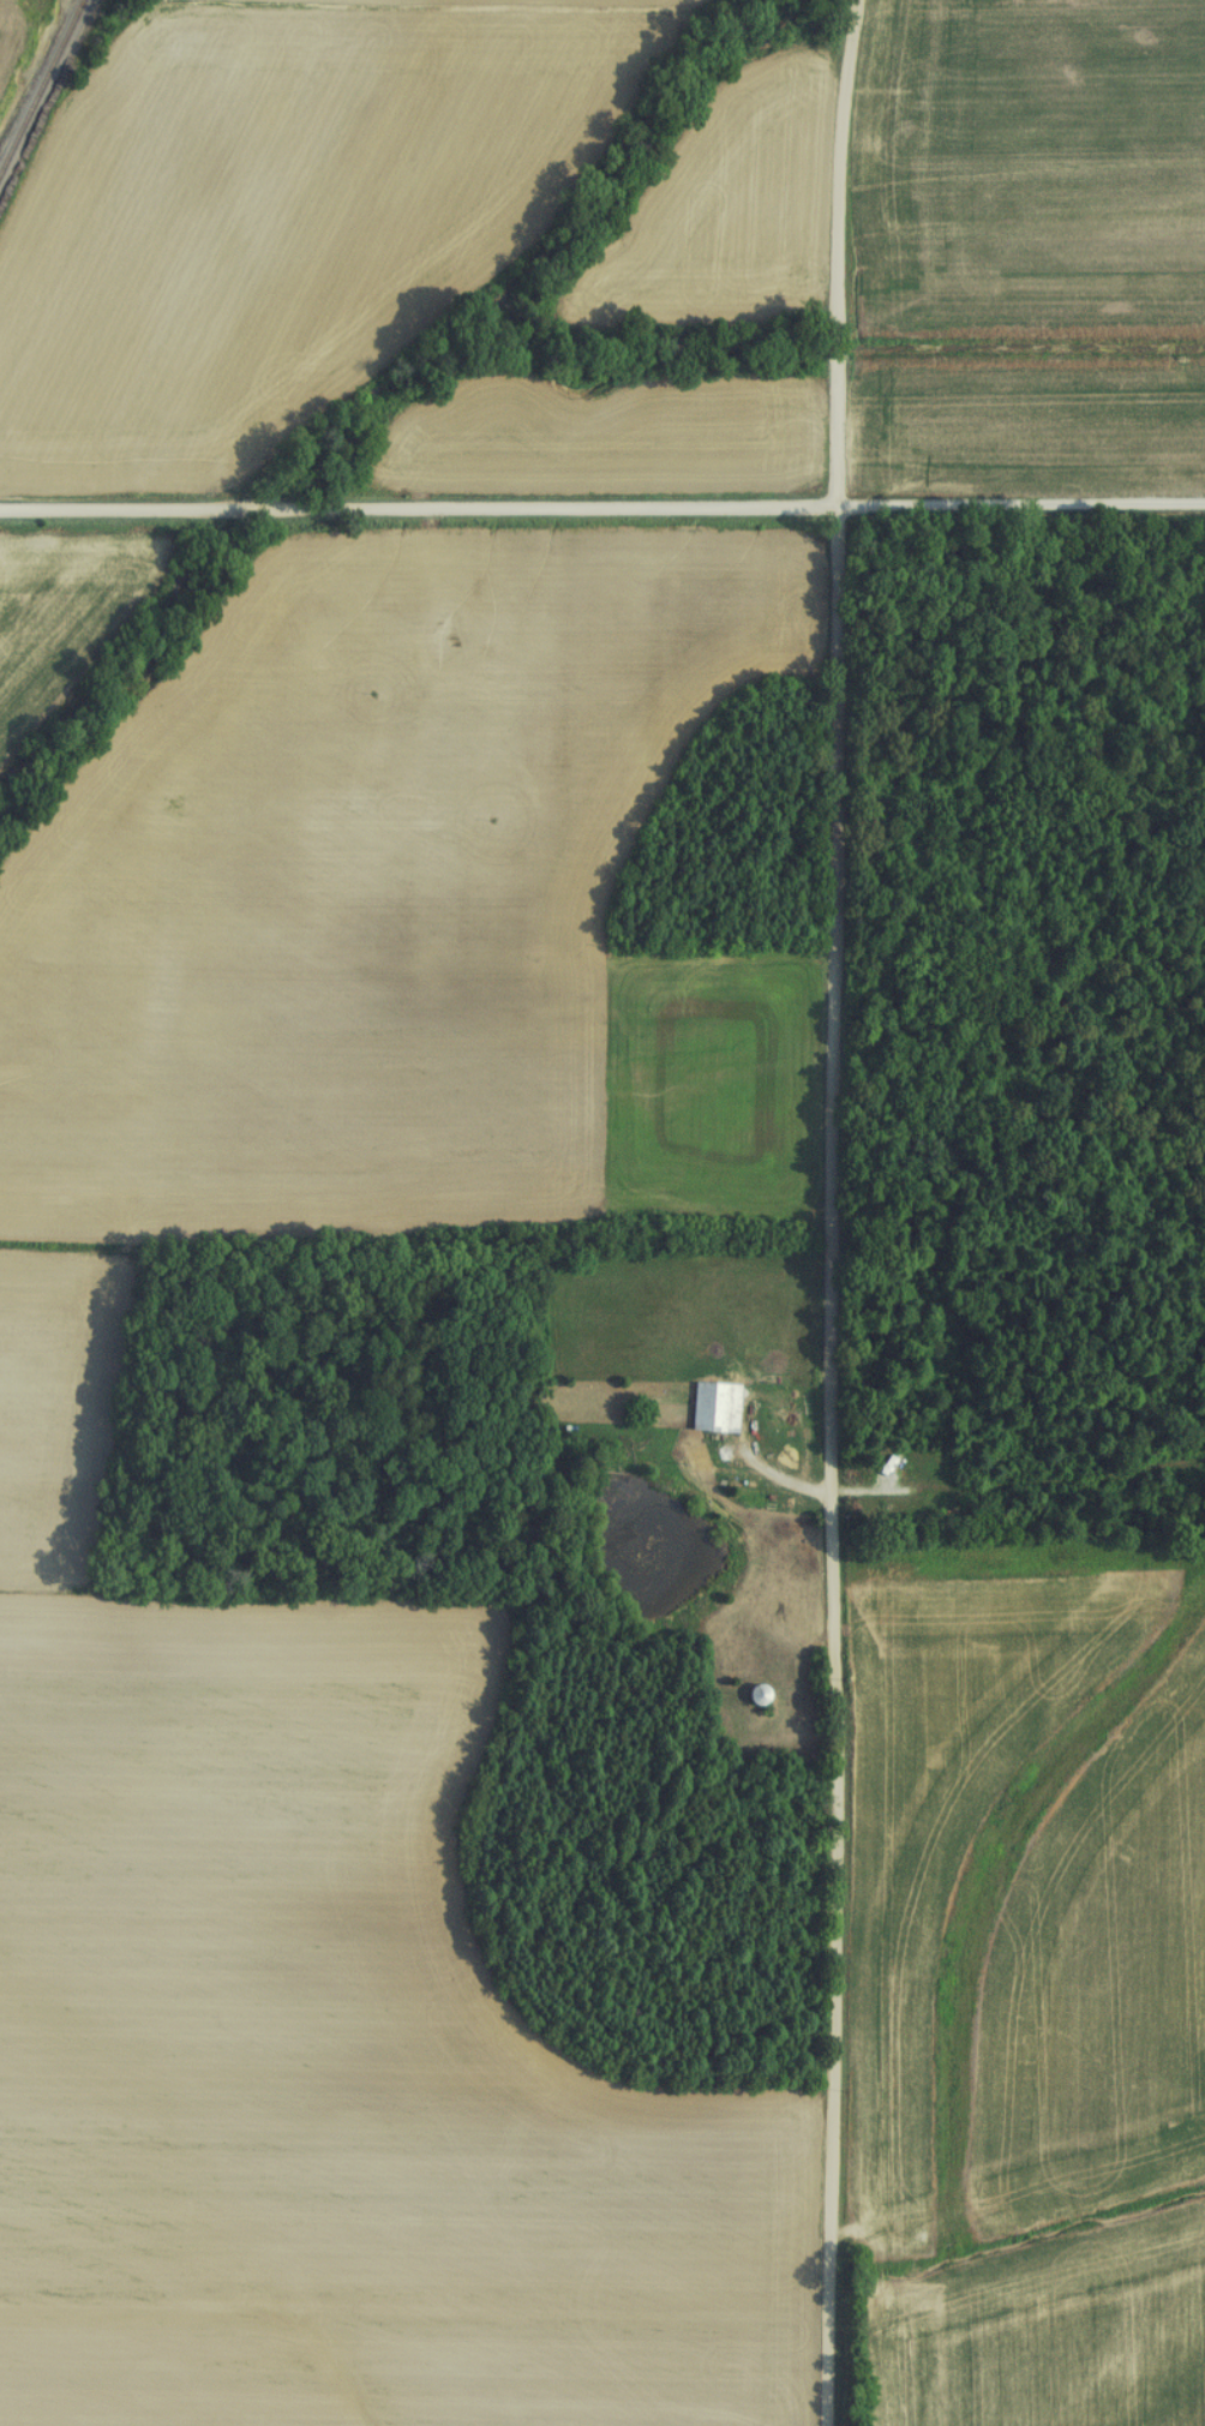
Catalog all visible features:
railway: (38, 80)
road: (839, 251)
road: (1021, 502)
road: (419, 508)
building: (709, 1407)
road: (835, 1464)
building: (750, 1695)

